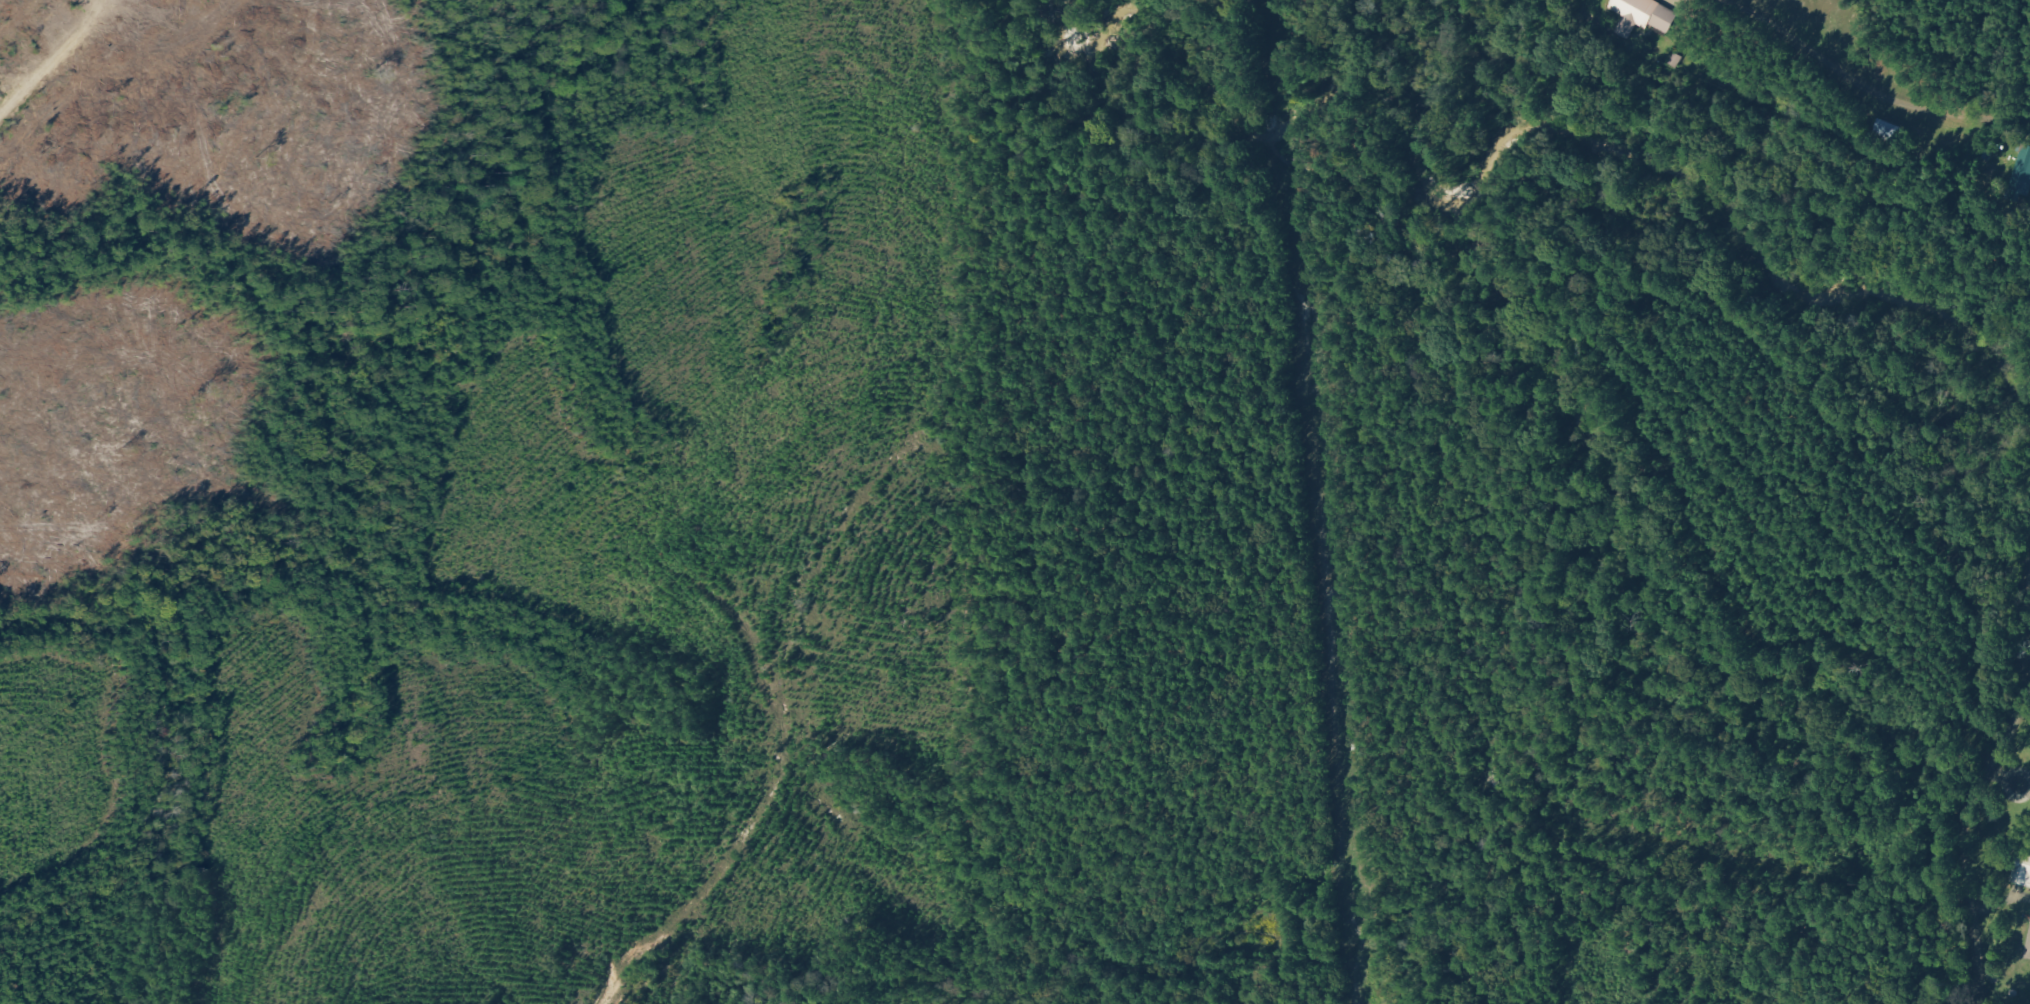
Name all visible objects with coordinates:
building: (1641, 15)
road: (2007, 83)
road: (1964, 799)
building: (2020, 871)
road: (659, 918)

